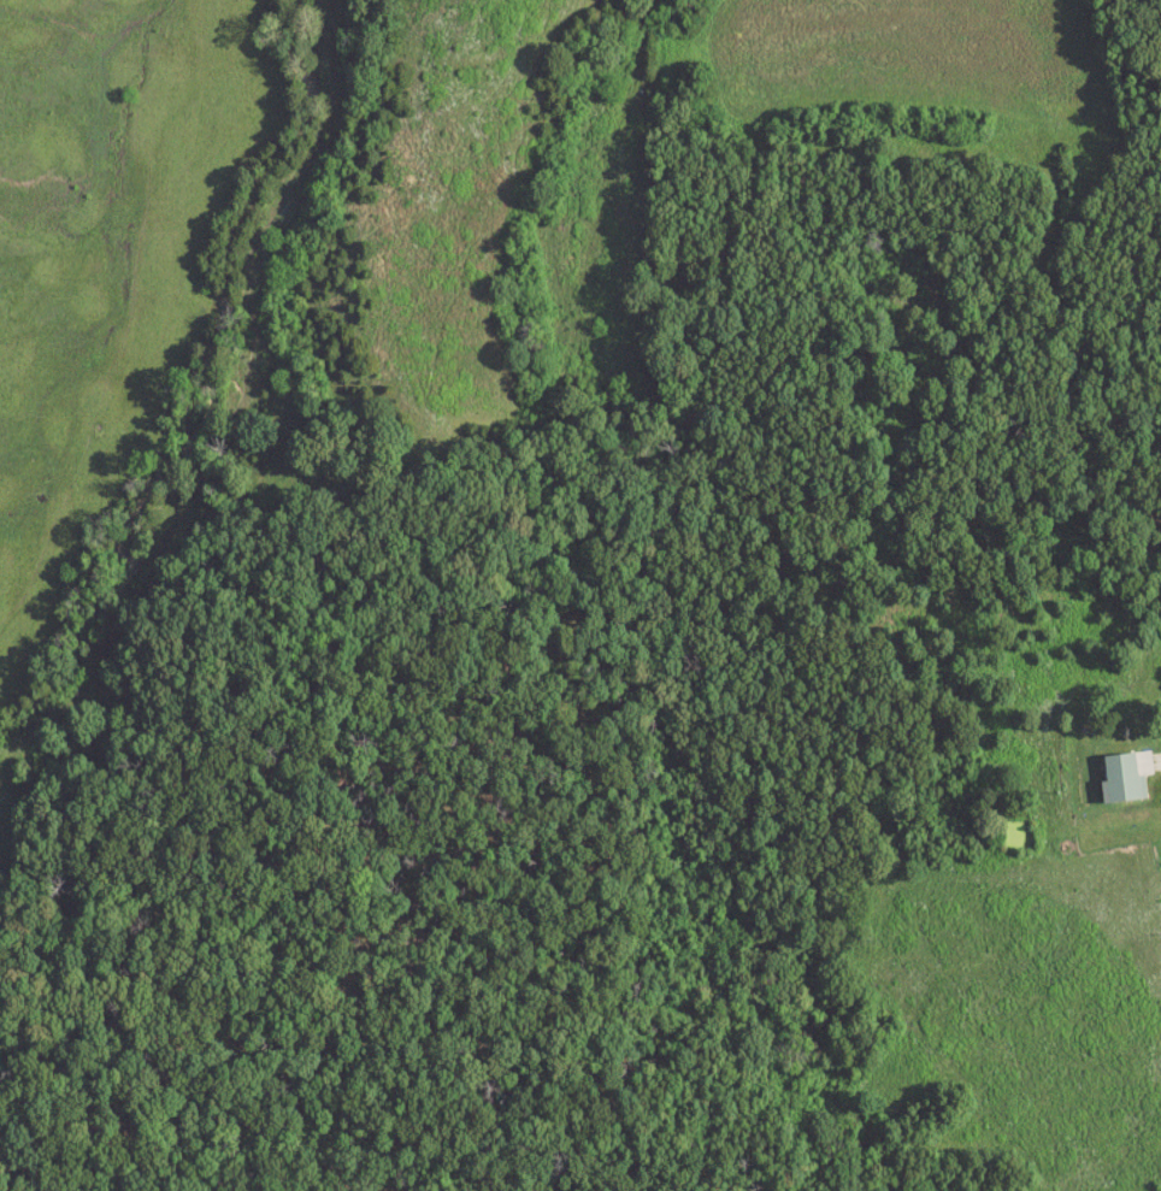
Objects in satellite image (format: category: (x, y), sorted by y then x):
building: (1118, 780)

